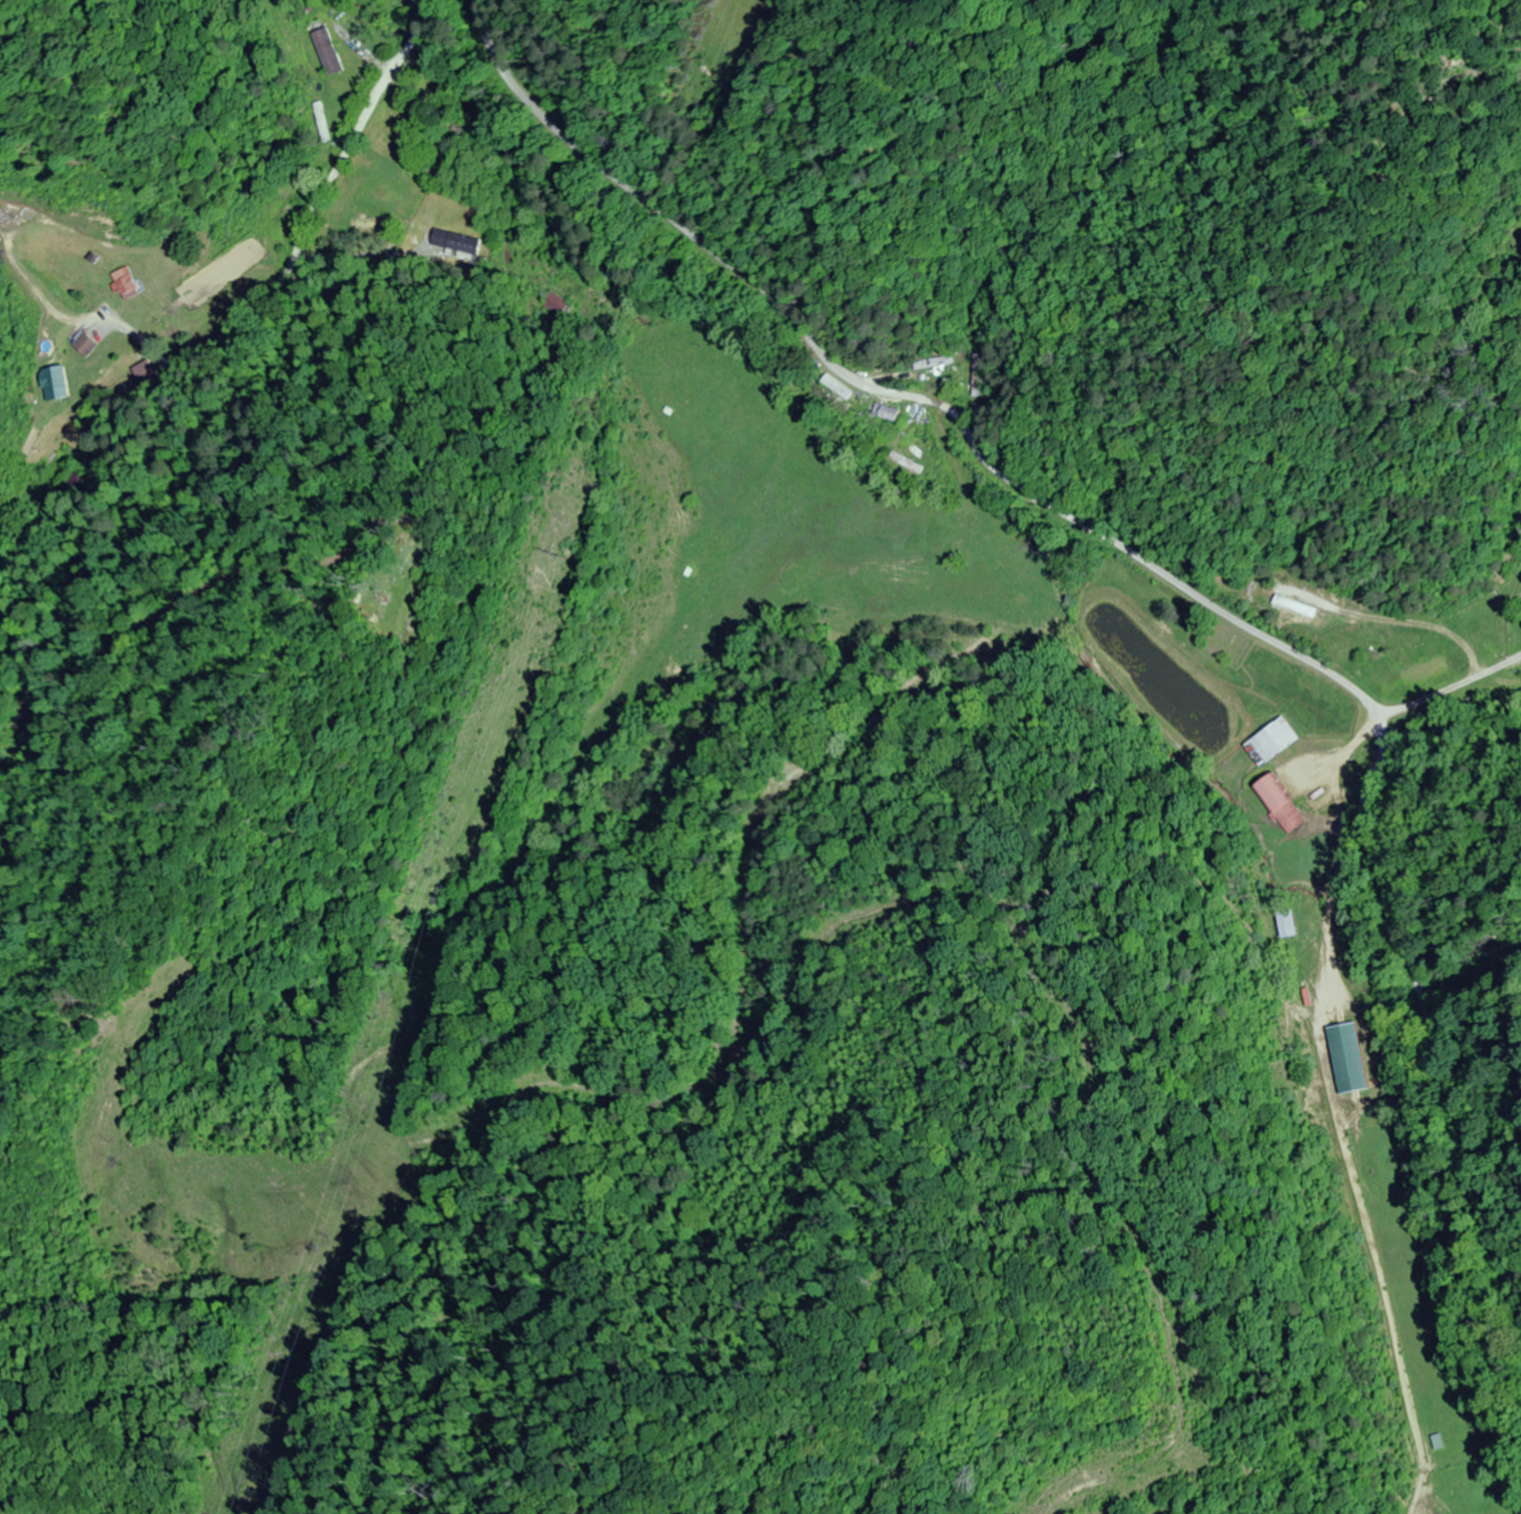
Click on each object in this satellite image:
building: (324, 52)
building: (318, 123)
building: (410, 128)
building: (365, 228)
building: (453, 242)
building: (123, 284)
road: (261, 301)
building: (84, 346)
building: (928, 364)
building: (982, 376)
building: (52, 385)
building: (884, 414)
building: (905, 464)
building: (2, 509)
road: (1145, 559)
building: (1295, 611)
building: (1279, 803)
building: (1282, 924)
building: (1345, 1058)

